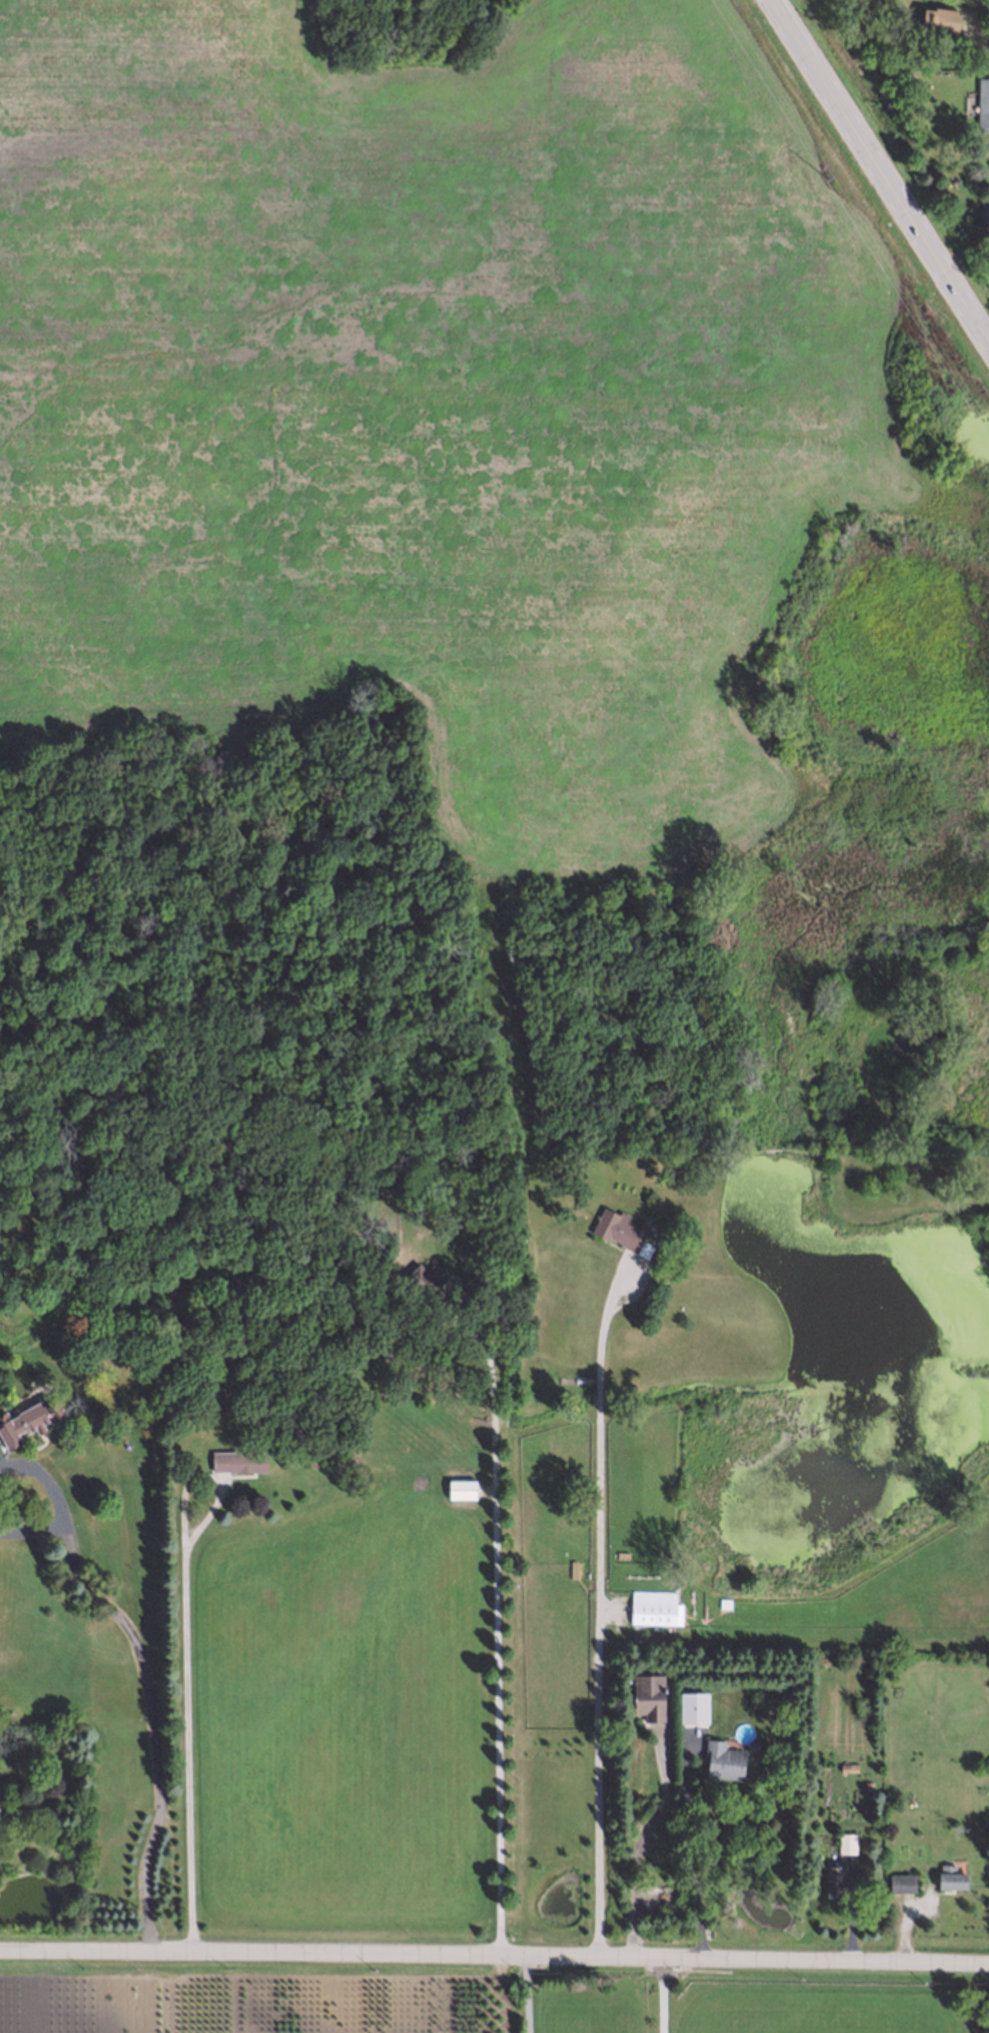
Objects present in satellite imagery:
building: (938, 20)
building: (981, 103)
road: (885, 164)
building: (983, 213)
building: (618, 1228)
building: (430, 1292)
building: (21, 1423)
building: (236, 1456)
road: (45, 1477)
building: (458, 1486)
road: (31, 1530)
building: (651, 1612)
road: (596, 1614)
road: (494, 1639)
road: (187, 1666)
building: (643, 1694)
building: (780, 1694)
building: (690, 1706)
road: (150, 1729)
building: (720, 1759)
building: (842, 1767)
building: (866, 1785)
building: (11, 1811)
building: (844, 1841)
road: (633, 1849)
road: (692, 1851)
building: (830, 1874)
building: (947, 1876)
building: (899, 1881)
road: (494, 1959)
road: (531, 1996)
road: (659, 1997)

